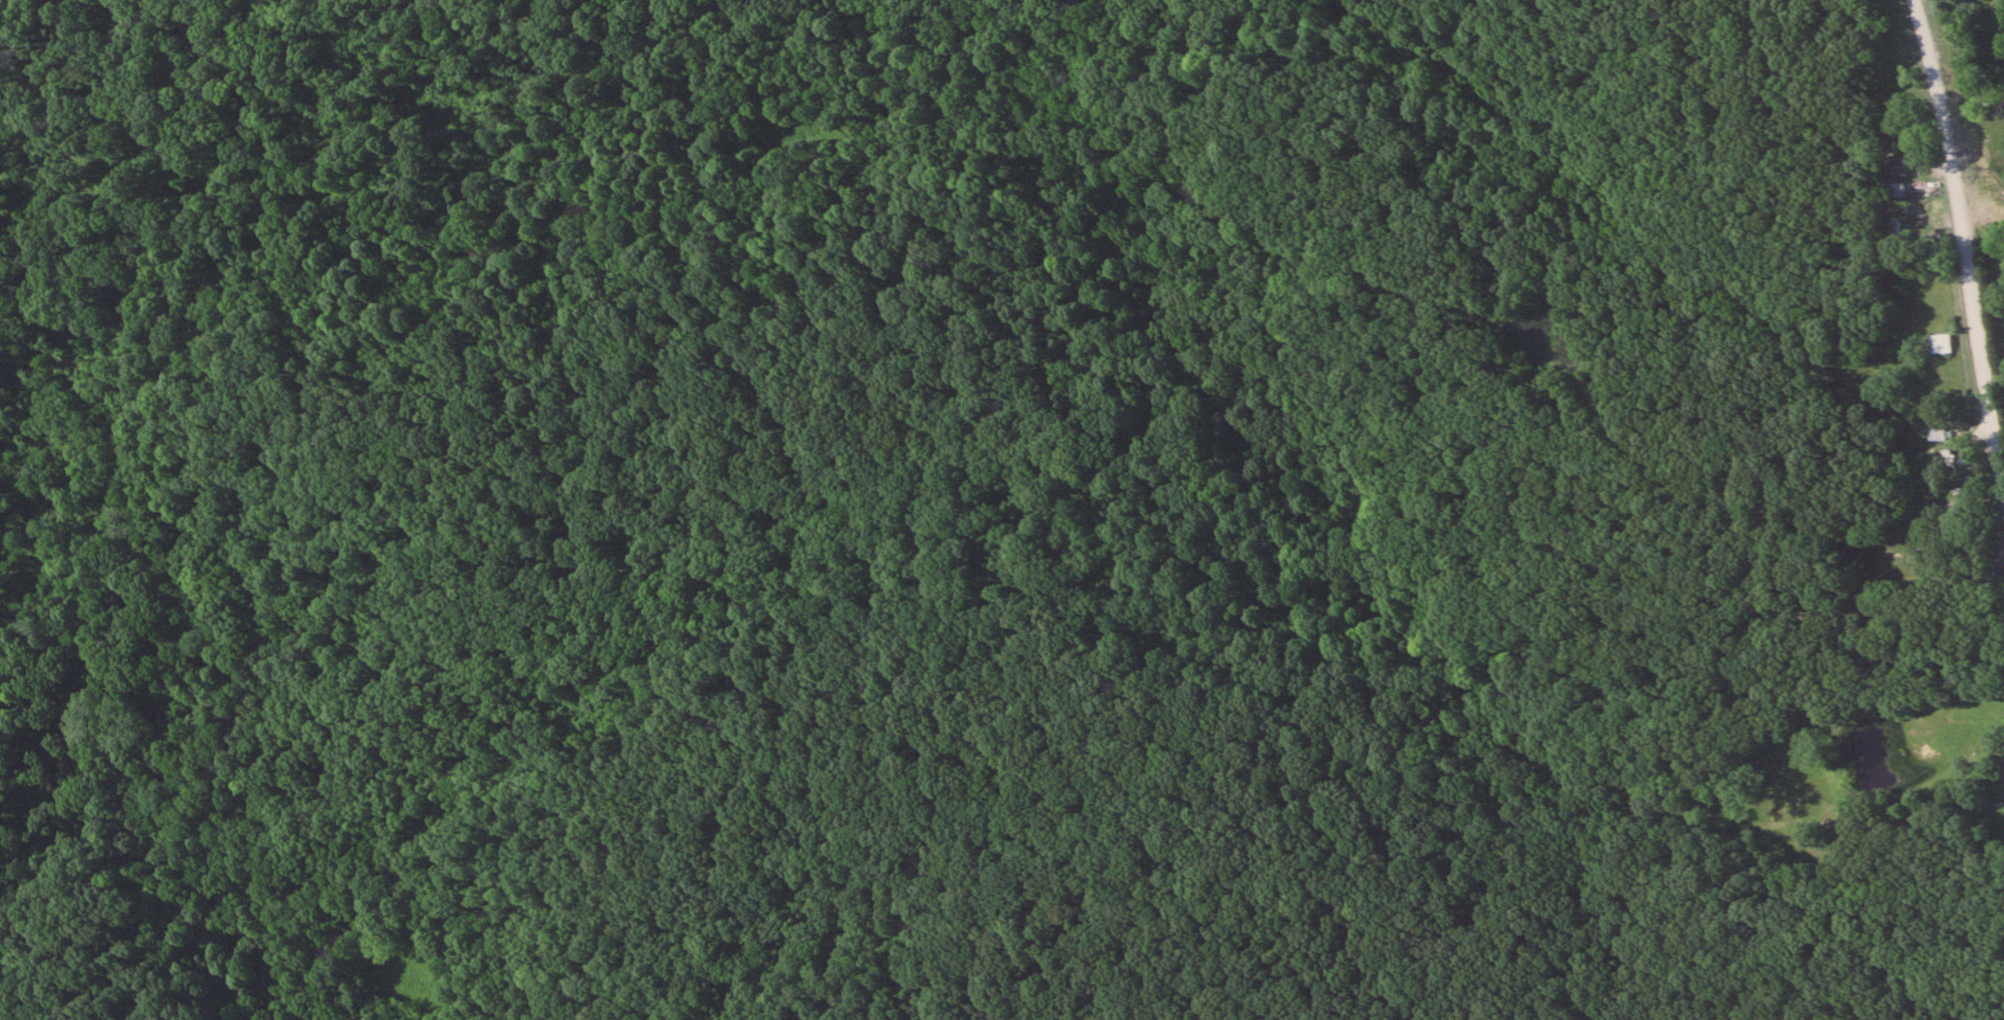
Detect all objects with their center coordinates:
building: (1900, 166)
road: (1961, 220)
building: (1941, 345)
building: (1937, 433)

